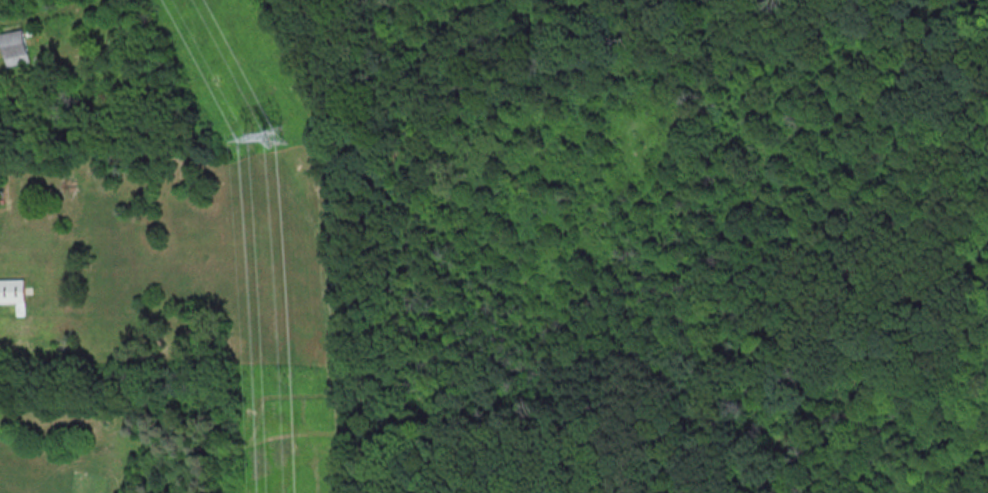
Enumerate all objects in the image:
building: (13, 47)
power tower: (277, 138)
park: (664, 243)
building: (12, 291)

